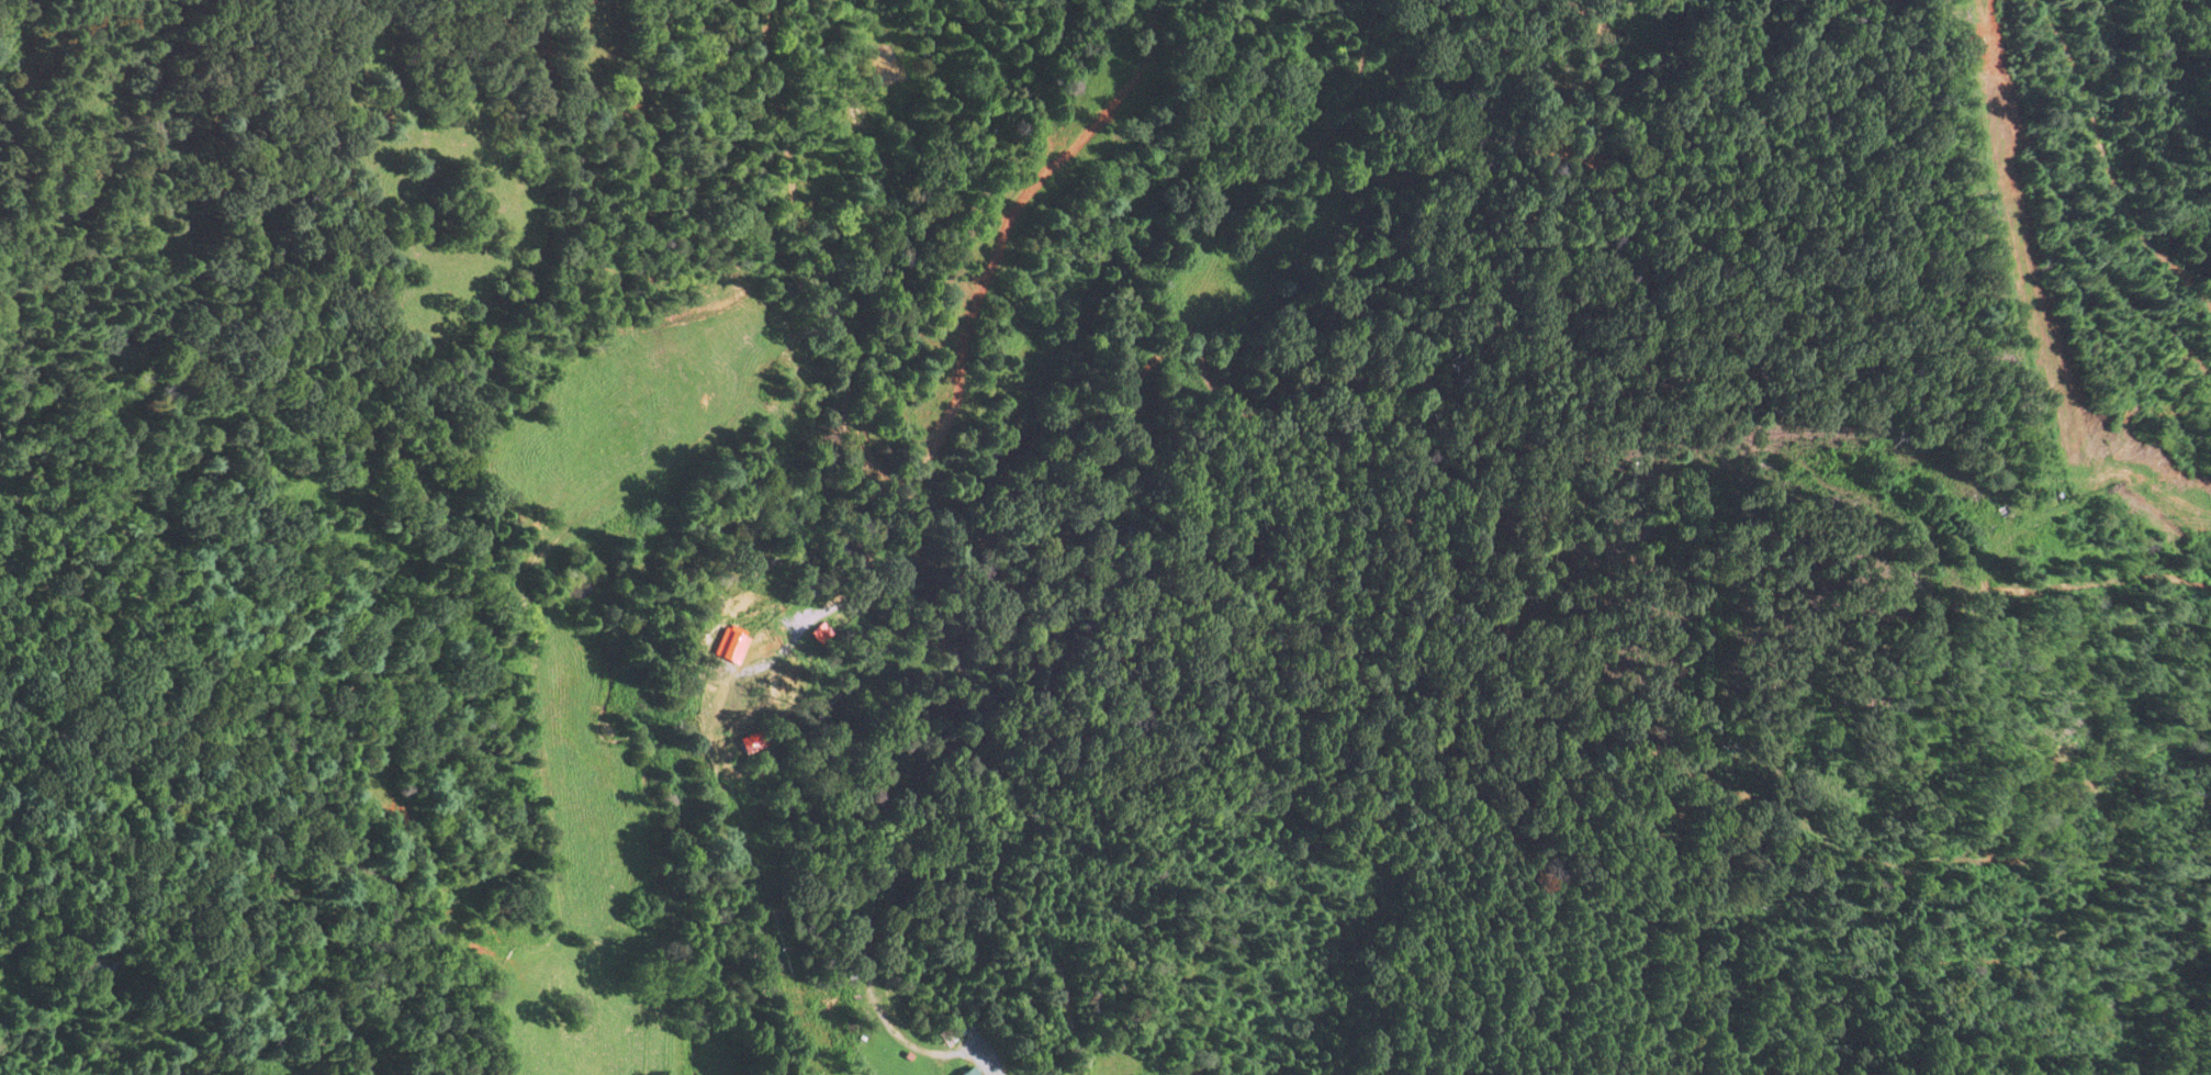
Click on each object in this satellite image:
building: (734, 646)
building: (752, 743)
building: (950, 1035)
road: (984, 1059)

